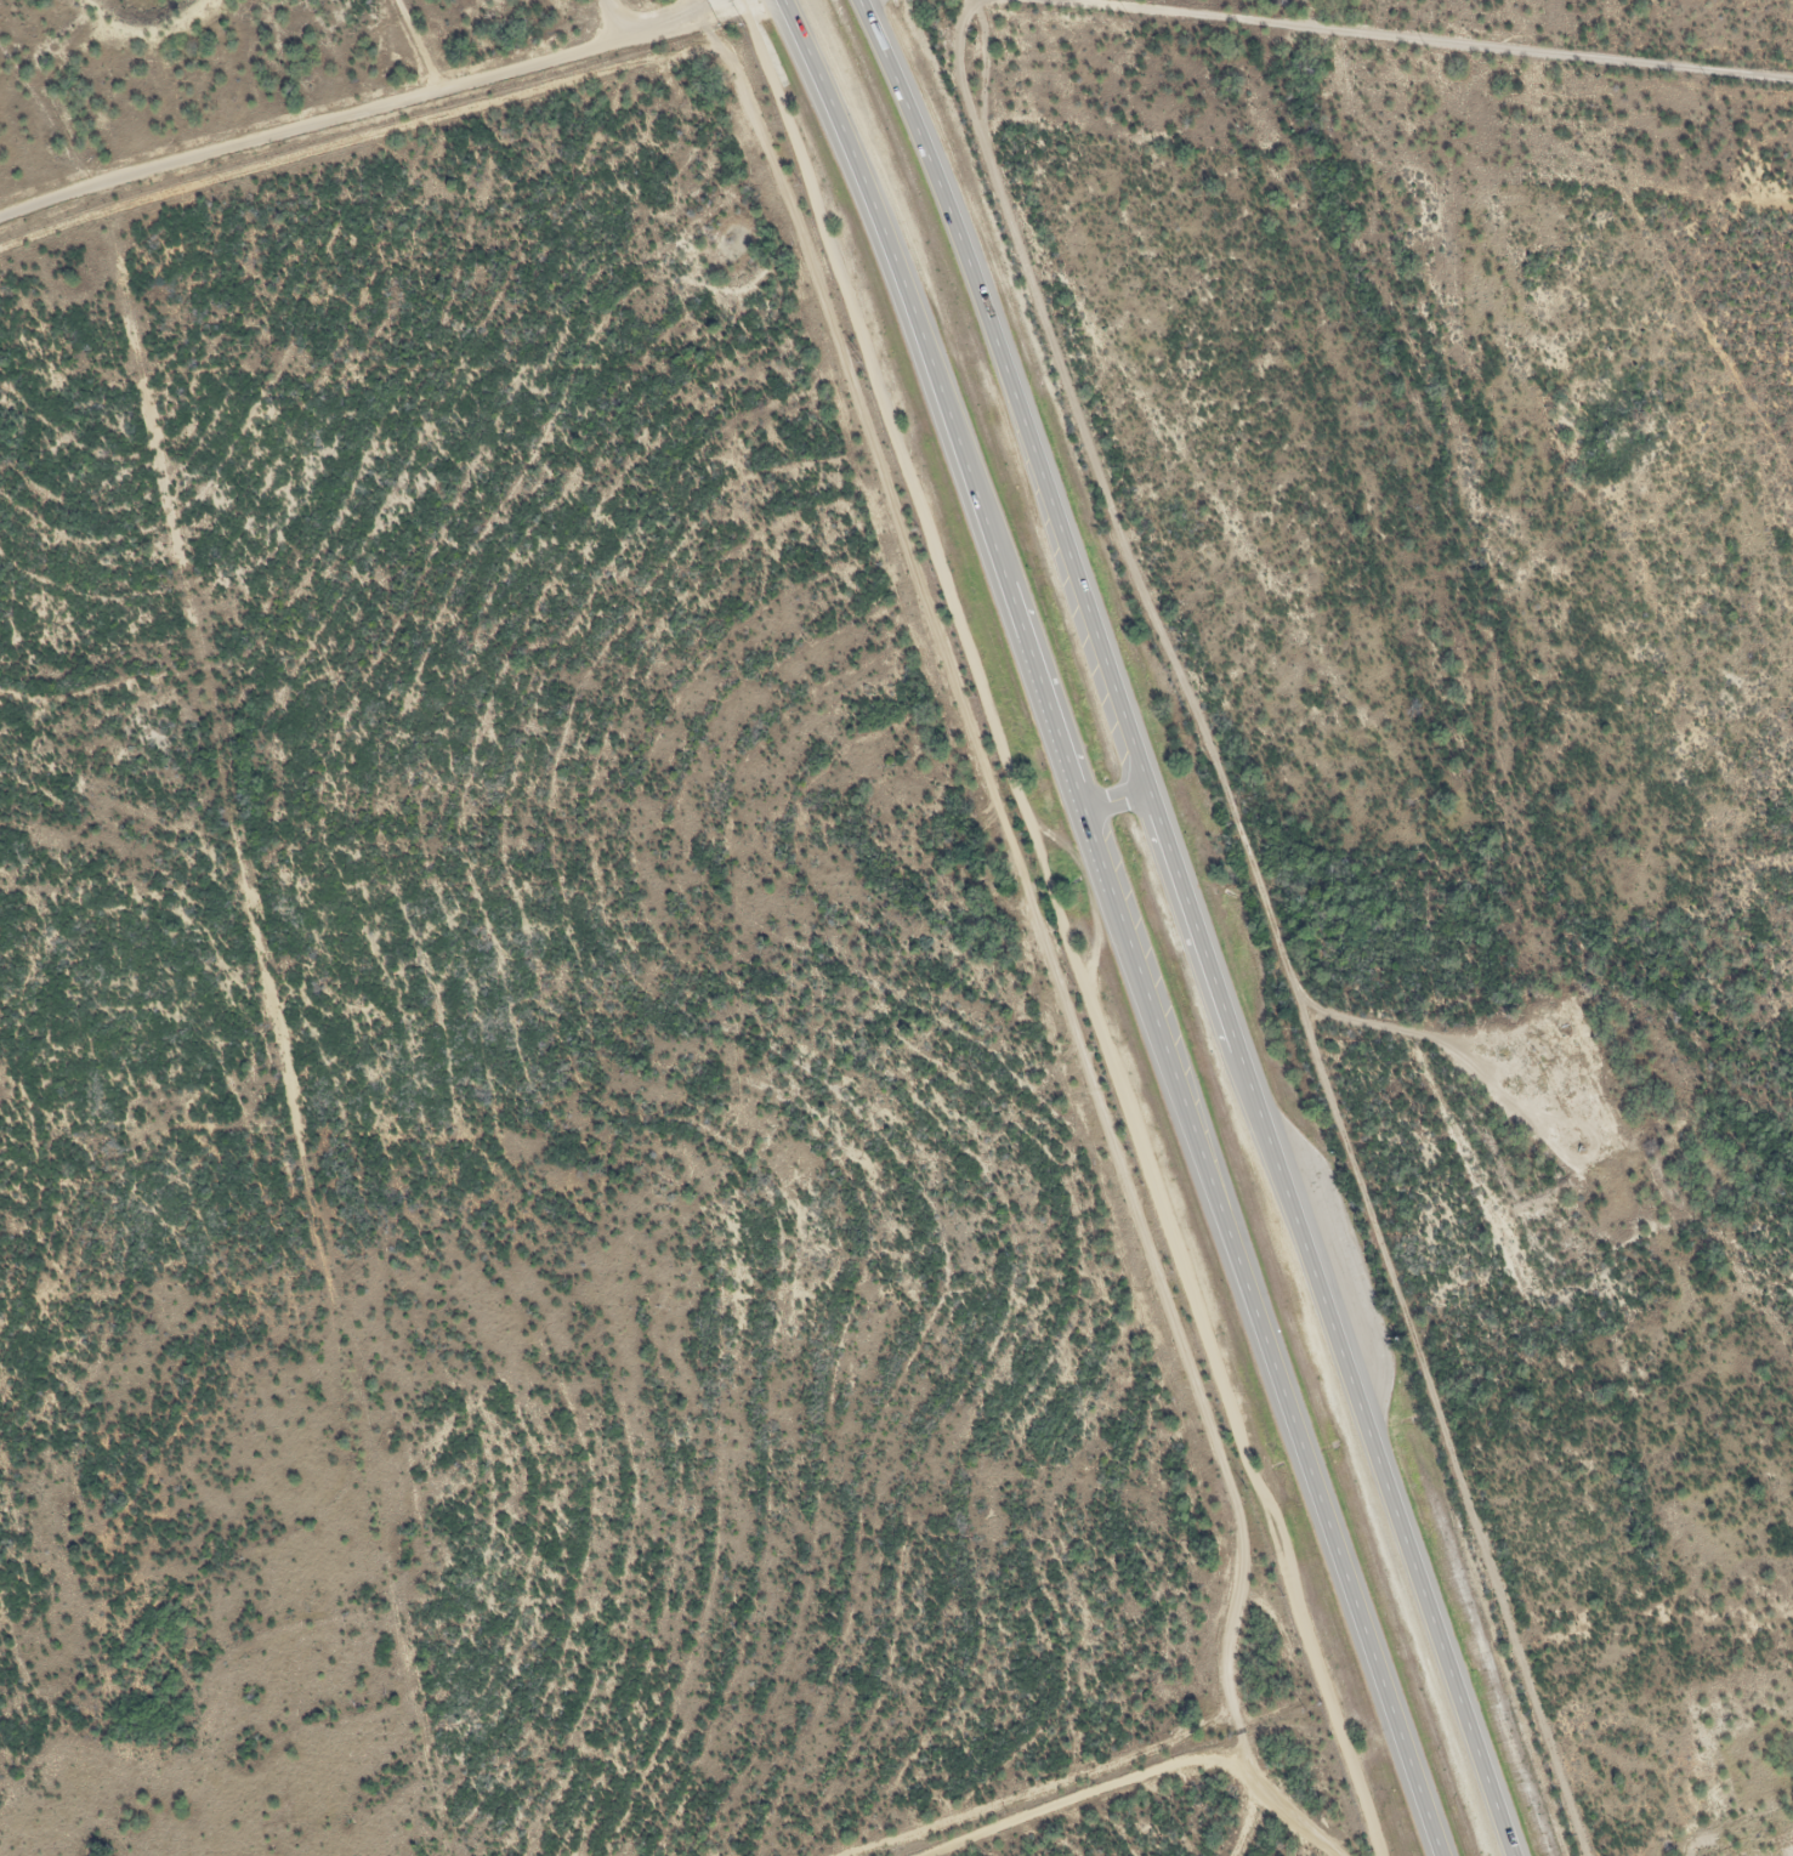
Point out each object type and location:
road: (1372, 42)
road: (430, 103)
road: (1116, 920)
road: (1209, 921)

